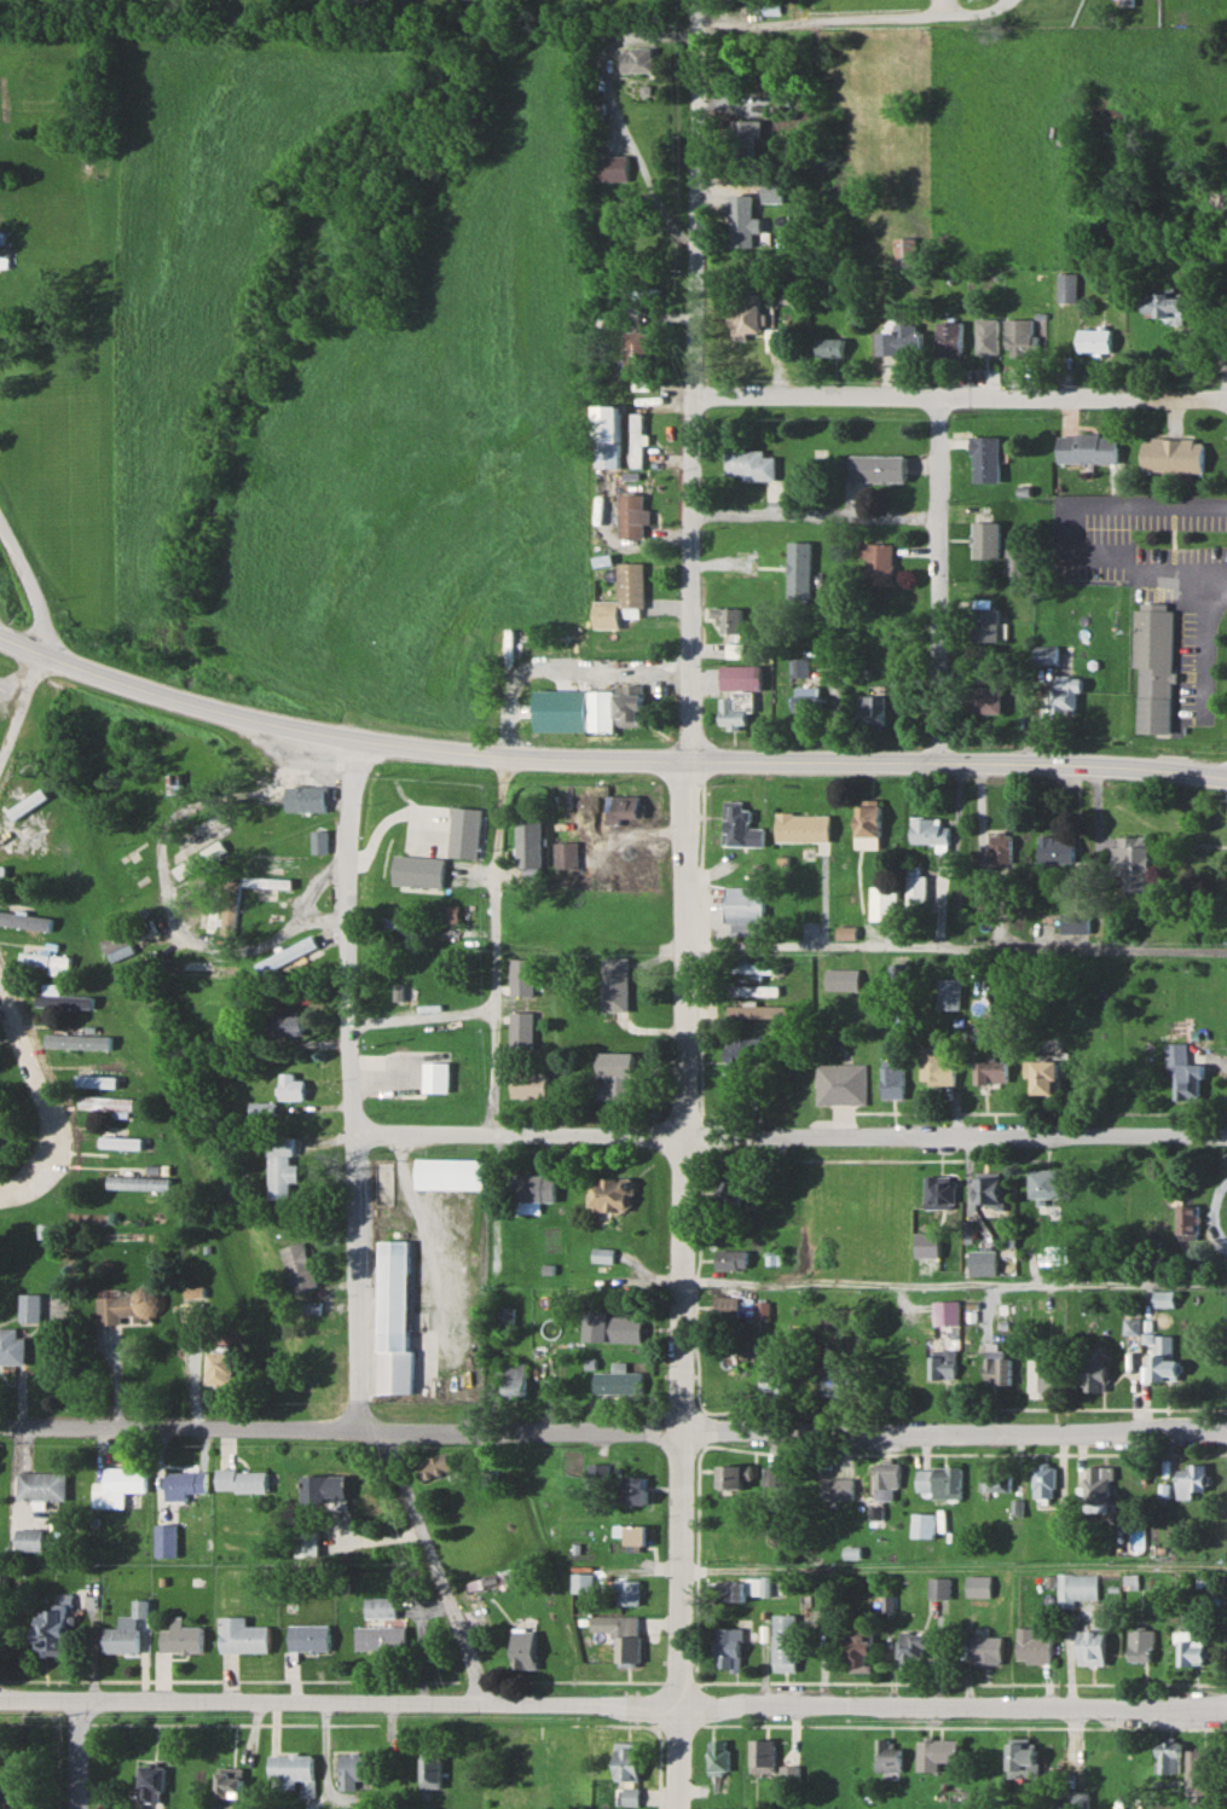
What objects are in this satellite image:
building: (1127, 2)
road: (940, 6)
road: (850, 15)
building: (639, 59)
building: (743, 138)
building: (772, 192)
building: (743, 220)
building: (6, 245)
building: (903, 250)
building: (1069, 286)
building: (1169, 307)
building: (749, 313)
building: (988, 336)
building: (1020, 336)
building: (950, 338)
building: (901, 340)
building: (1096, 340)
building: (637, 346)
building: (829, 346)
road: (960, 396)
building: (608, 435)
building: (636, 439)
building: (1088, 448)
building: (1174, 454)
building: (984, 459)
building: (752, 465)
building: (878, 468)
road: (818, 514)
building: (632, 515)
building: (984, 540)
building: (1014, 559)
building: (878, 563)
building: (800, 569)
road: (940, 581)
road: (30, 588)
building: (623, 597)
building: (729, 618)
building: (985, 619)
building: (733, 650)
building: (1154, 663)
building: (799, 666)
building: (741, 676)
building: (1065, 694)
building: (984, 698)
road: (21, 703)
building: (631, 703)
building: (808, 703)
building: (558, 708)
building: (872, 708)
building: (601, 709)
building: (733, 714)
road: (606, 761)
building: (302, 799)
building: (631, 805)
building: (868, 817)
building: (742, 825)
building: (804, 827)
building: (464, 830)
building: (928, 830)
building: (198, 831)
building: (316, 840)
building: (529, 842)
building: (1000, 846)
building: (1057, 851)
building: (566, 853)
building: (198, 860)
building: (1130, 860)
building: (272, 863)
building: (418, 869)
road: (156, 883)
building: (266, 883)
building: (916, 889)
building: (885, 901)
building: (228, 903)
road: (681, 904)
building: (122, 910)
building: (745, 910)
building: (446, 912)
building: (206, 914)
building: (25, 920)
building: (1075, 921)
building: (846, 932)
road: (497, 944)
road: (954, 947)
building: (284, 955)
building: (45, 958)
building: (140, 966)
building: (763, 967)
building: (202, 970)
building: (521, 975)
building: (898, 976)
building: (843, 978)
building: (615, 981)
building: (752, 990)
building: (950, 992)
building: (59, 998)
building: (288, 1021)
building: (520, 1030)
building: (71, 1040)
building: (938, 1066)
building: (992, 1069)
building: (1182, 1072)
building: (615, 1074)
building: (435, 1075)
building: (1049, 1075)
building: (893, 1078)
building: (99, 1079)
building: (840, 1082)
building: (529, 1084)
building: (293, 1086)
road: (46, 1097)
building: (108, 1104)
building: (264, 1106)
road: (791, 1137)
building: (121, 1142)
building: (280, 1165)
building: (450, 1171)
building: (137, 1182)
building: (1048, 1183)
building: (826, 1188)
building: (991, 1189)
building: (531, 1190)
building: (728, 1191)
building: (940, 1191)
building: (610, 1193)
building: (1187, 1218)
road: (357, 1234)
building: (601, 1254)
building: (731, 1259)
building: (984, 1262)
building: (300, 1265)
road: (960, 1283)
building: (1167, 1297)
building: (123, 1306)
building: (39, 1308)
building: (728, 1308)
building: (947, 1311)
building: (504, 1317)
building: (394, 1320)
building: (613, 1326)
building: (11, 1346)
building: (316, 1356)
building: (1167, 1358)
building: (942, 1363)
building: (218, 1364)
building: (997, 1366)
building: (1043, 1373)
building: (776, 1375)
building: (1098, 1375)
building: (513, 1379)
building: (833, 1380)
building: (617, 1381)
road: (613, 1432)
road: (845, 1453)
building: (438, 1465)
building: (596, 1474)
building: (885, 1474)
building: (734, 1475)
building: (769, 1477)
building: (997, 1478)
building: (242, 1479)
building: (1194, 1479)
building: (938, 1480)
building: (1044, 1483)
building: (1099, 1484)
building: (39, 1485)
building: (116, 1485)
building: (183, 1485)
building: (325, 1488)
building: (631, 1488)
building: (835, 1488)
building: (921, 1524)
building: (631, 1532)
building: (27, 1538)
building: (163, 1540)
building: (306, 1542)
road: (955, 1572)
building: (579, 1582)
building: (978, 1584)
building: (938, 1587)
building: (1075, 1587)
building: (733, 1589)
building: (625, 1591)
building: (380, 1627)
building: (53, 1628)
building: (127, 1631)
building: (242, 1635)
building: (620, 1635)
building: (180, 1636)
building: (308, 1636)
building: (785, 1640)
building: (1092, 1643)
building: (1140, 1645)
building: (1031, 1646)
building: (1192, 1647)
building: (522, 1648)
building: (728, 1648)
building: (911, 1648)
building: (985, 1648)
building: (861, 1651)
road: (231, 1678)
road: (586, 1680)
road: (676, 1681)
road: (960, 1681)
road: (613, 1704)
building: (936, 1752)
road: (76, 1755)
building: (762, 1755)
building: (1169, 1755)
building: (537, 1756)
building: (717, 1756)
building: (887, 1756)
building: (625, 1757)
building: (1024, 1757)
building: (354, 1768)
building: (430, 1769)
building: (291, 1770)
building: (1200, 1772)
building: (19, 1781)
building: (150, 1781)
building: (228, 1781)
building: (629, 1794)
building: (1078, 1799)

